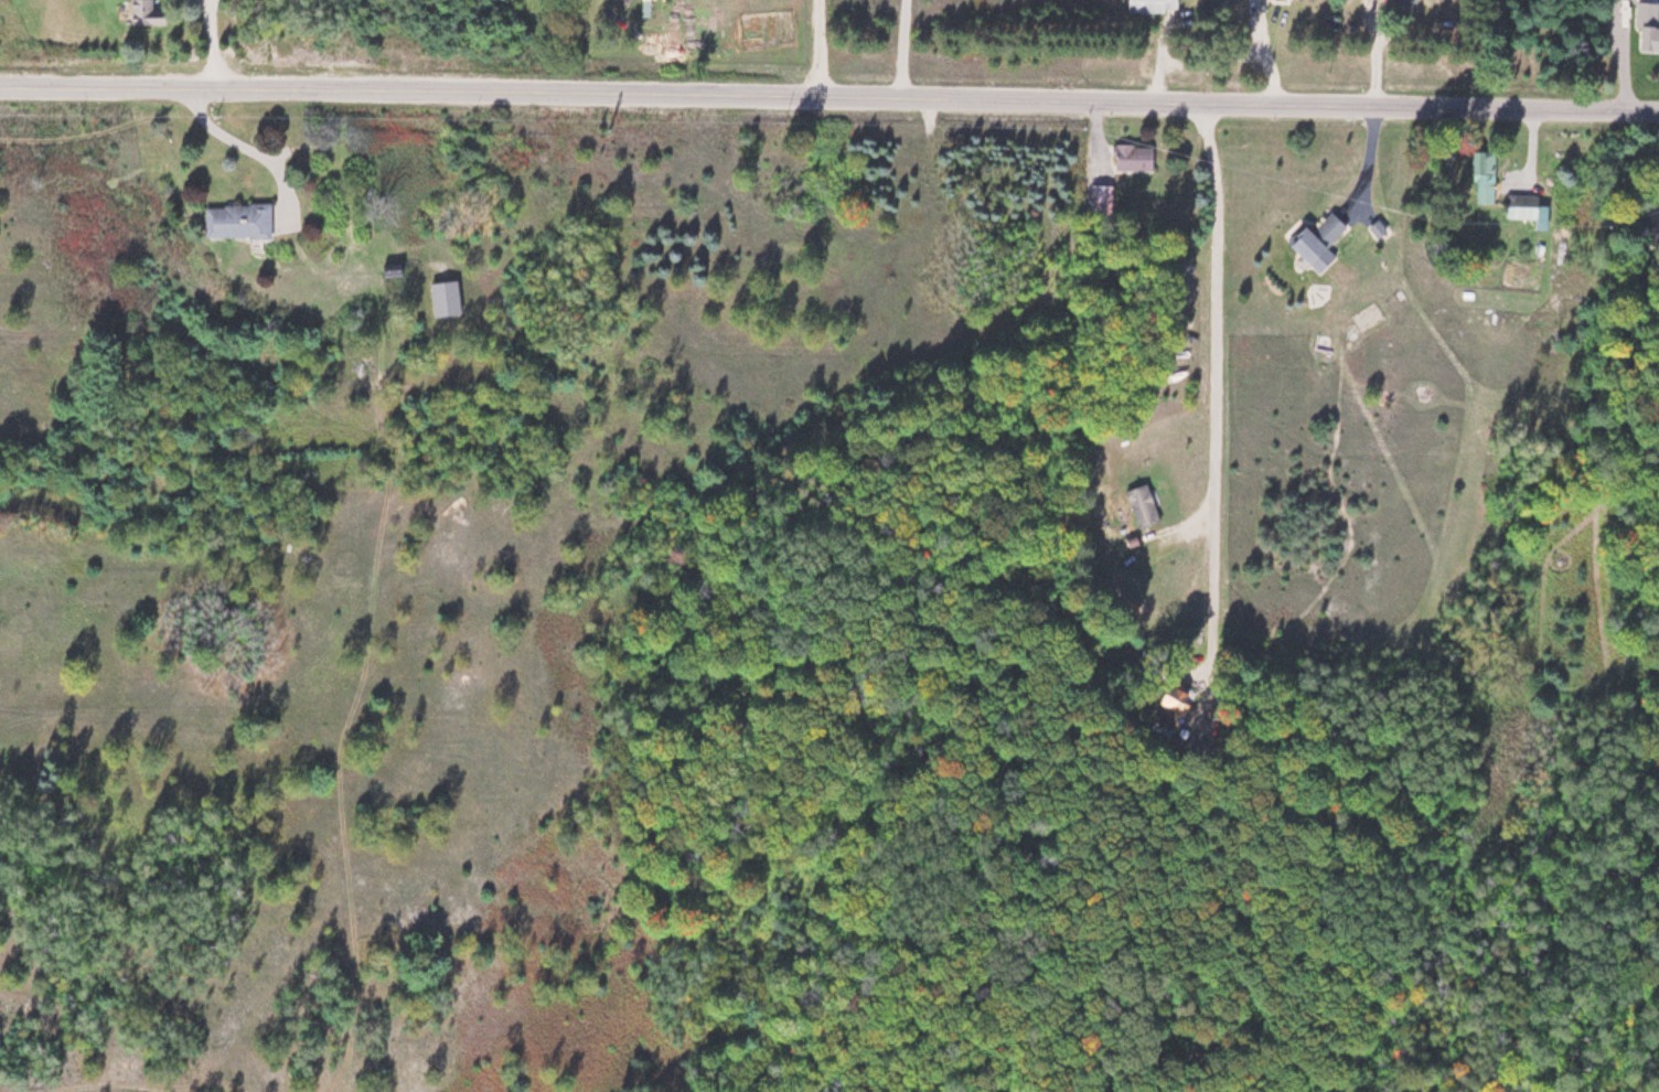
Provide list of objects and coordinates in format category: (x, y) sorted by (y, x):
building: (1414, 0)
building: (1150, 6)
building: (140, 12)
building: (1645, 26)
road: (828, 100)
building: (1132, 157)
building: (1481, 175)
building: (1099, 197)
building: (1520, 206)
building: (231, 220)
building: (1314, 240)
building: (443, 298)
building: (1138, 504)

